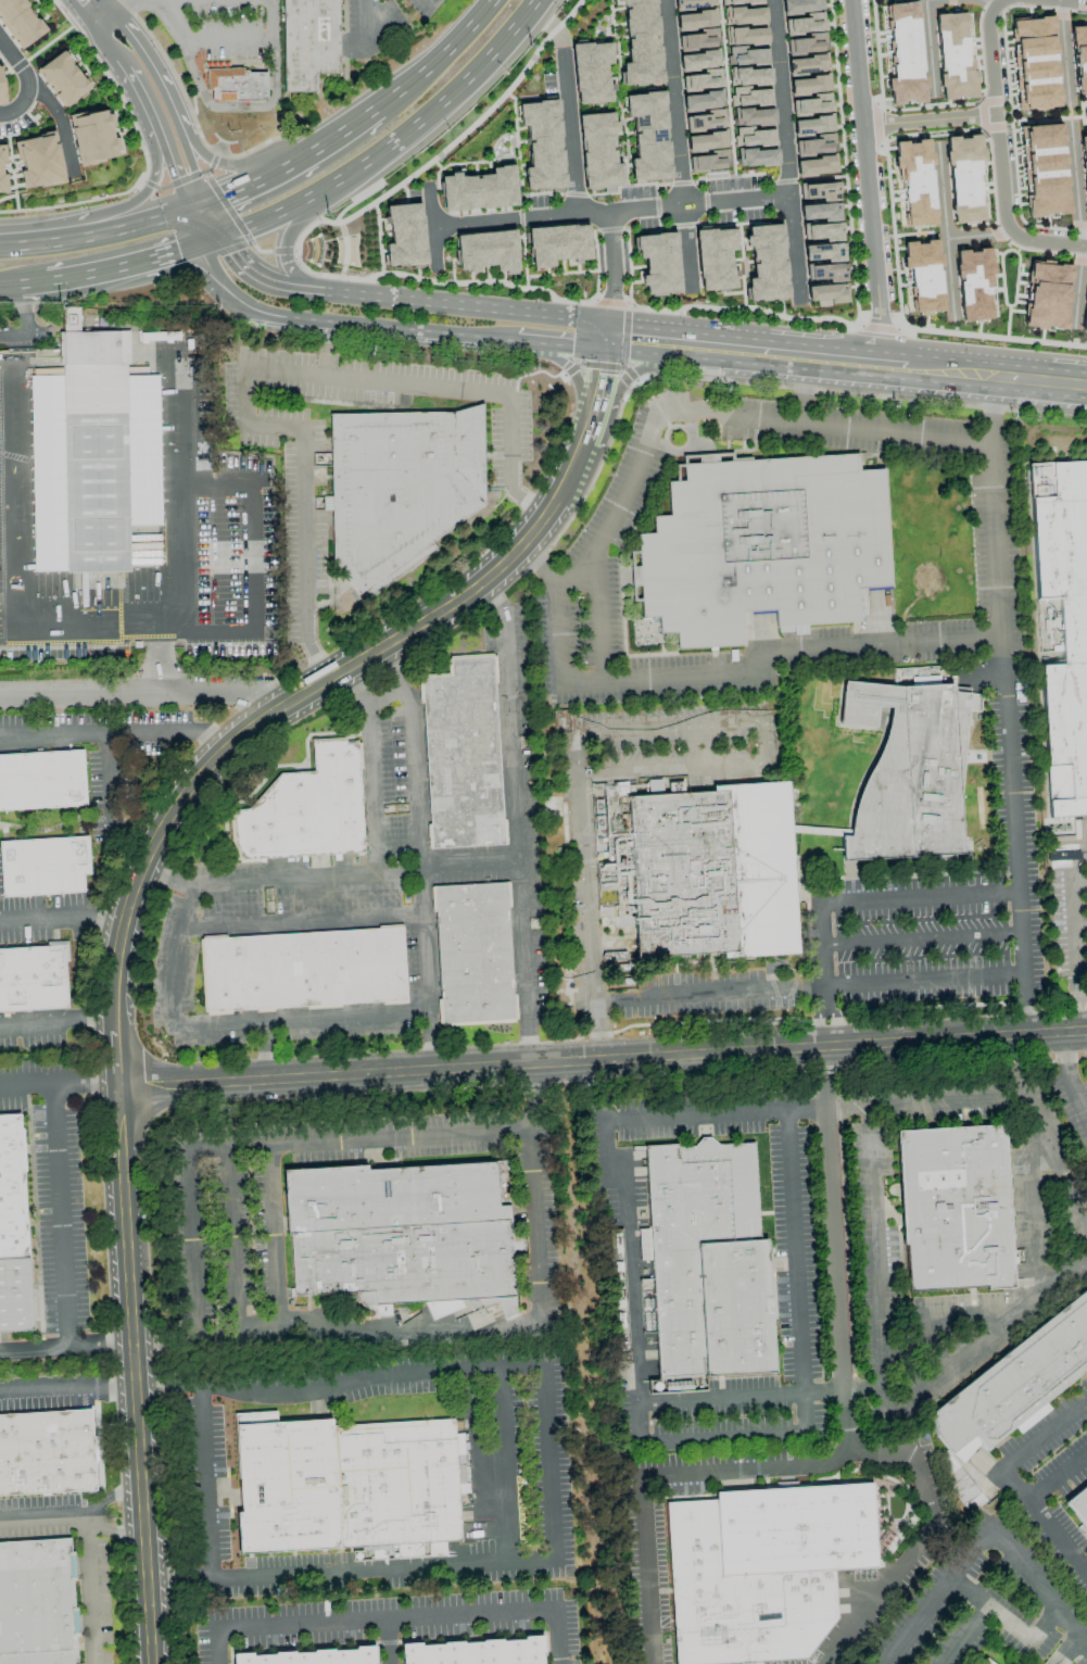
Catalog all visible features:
road: (1079, 0)
building: (693, 3)
road: (985, 3)
road: (994, 3)
building: (800, 5)
building: (1084, 5)
road: (108, 7)
road: (123, 7)
building: (743, 12)
road: (81, 14)
road: (364, 20)
building: (695, 20)
building: (20, 22)
road: (103, 22)
building: (806, 23)
road: (552, 26)
parking lot: (229, 28)
road: (463, 31)
building: (745, 35)
road: (134, 37)
road: (230, 41)
building: (308, 42)
building: (640, 42)
building: (807, 43)
road: (928, 45)
road: (104, 46)
building: (699, 50)
road: (1064, 52)
building: (905, 54)
building: (953, 58)
building: (1079, 58)
building: (1032, 62)
building: (807, 64)
building: (591, 72)
building: (748, 76)
building: (62, 78)
road: (28, 81)
building: (237, 85)
building: (809, 85)
road: (405, 86)
building: (0, 88)
road: (139, 90)
building: (702, 90)
road: (437, 104)
building: (811, 104)
road: (211, 106)
road: (1069, 114)
building: (753, 116)
road: (927, 119)
road: (996, 121)
building: (812, 124)
road: (180, 133)
road: (570, 134)
building: (648, 136)
building: (93, 137)
building: (753, 137)
building: (706, 140)
building: (542, 144)
building: (816, 144)
road: (678, 146)
road: (315, 151)
building: (598, 151)
road: (786, 151)
building: (756, 156)
building: (38, 161)
road: (174, 165)
building: (816, 165)
road: (241, 166)
building: (0, 168)
building: (1084, 168)
building: (1040, 169)
traffic signals: (178, 176)
building: (964, 178)
building: (915, 180)
road: (864, 181)
road: (1075, 184)
road: (150, 185)
building: (479, 190)
building: (818, 190)
road: (228, 194)
traffic signals: (225, 197)
road: (199, 205)
road: (611, 212)
road: (270, 215)
road: (214, 220)
road: (197, 226)
road: (432, 228)
road: (97, 231)
road: (944, 234)
building: (404, 236)
road: (978, 237)
road: (211, 241)
road: (1049, 241)
road: (286, 244)
building: (557, 244)
traffic signals: (177, 251)
building: (486, 251)
traffic signals: (229, 253)
road: (160, 254)
building: (715, 259)
building: (658, 262)
building: (766, 263)
building: (826, 272)
road: (69, 277)
road: (202, 277)
road: (615, 277)
road: (260, 282)
building: (974, 282)
road: (10, 287)
road: (230, 289)
road: (1077, 290)
building: (1047, 295)
road: (606, 306)
road: (466, 307)
road: (740, 312)
building: (1085, 312)
road: (20, 320)
road: (396, 328)
road: (875, 331)
road: (659, 341)
road: (991, 342)
road: (561, 345)
road: (326, 349)
road: (795, 355)
road: (893, 365)
road: (950, 370)
road: (286, 371)
road: (570, 375)
road: (636, 375)
road: (1040, 380)
road: (758, 385)
road: (597, 389)
road: (800, 390)
road: (464, 391)
road: (728, 414)
road: (251, 420)
building: (96, 446)
road: (574, 458)
building: (401, 488)
road: (528, 504)
parking lot: (136, 521)
building: (762, 545)
road: (305, 558)
road: (250, 565)
road: (599, 616)
road: (89, 617)
building: (1063, 626)
road: (162, 655)
road: (710, 671)
building: (924, 680)
road: (148, 693)
road: (1009, 705)
road: (275, 711)
road: (756, 719)
road: (114, 734)
building: (463, 755)
road: (370, 768)
building: (909, 772)
building: (42, 780)
road: (111, 801)
building: (306, 809)
road: (513, 821)
road: (419, 854)
building: (43, 866)
building: (703, 868)
road: (357, 874)
road: (1067, 877)
road: (166, 880)
road: (589, 918)
road: (62, 919)
road: (302, 921)
road: (1078, 921)
road: (919, 933)
building: (475, 953)
road: (818, 956)
building: (304, 970)
road: (1074, 975)
building: (33, 978)
road: (920, 985)
road: (1080, 1000)
road: (833, 1018)
road: (56, 1020)
road: (820, 1020)
road: (228, 1024)
road: (115, 1059)
road: (603, 1059)
road: (1067, 1077)
road: (59, 1081)
road: (1082, 1096)
road: (949, 1100)
road: (715, 1112)
road: (1058, 1162)
road: (1035, 1187)
building: (955, 1208)
road: (61, 1214)
building: (13, 1231)
building: (402, 1235)
road: (229, 1238)
road: (188, 1241)
road: (797, 1253)
road: (628, 1260)
building: (707, 1264)
road: (874, 1264)
road: (939, 1319)
road: (1003, 1324)
road: (314, 1332)
road: (66, 1348)
road: (840, 1350)
road: (462, 1369)
road: (135, 1375)
building: (1018, 1382)
road: (165, 1384)
road: (67, 1387)
road: (742, 1402)
road: (1046, 1433)
road: (719, 1437)
building: (47, 1452)
road: (547, 1463)
road: (1058, 1475)
building: (347, 1488)
building: (964, 1490)
road: (110, 1498)
building: (1079, 1505)
road: (1045, 1520)
road: (113, 1531)
road: (983, 1534)
road: (920, 1535)
road: (89, 1550)
road: (646, 1568)
building: (763, 1570)
building: (37, 1602)
road: (1009, 1617)
road: (395, 1619)
road: (964, 1634)
road: (387, 1642)
building: (477, 1652)
building: (312, 1657)
building: (985, 1662)

